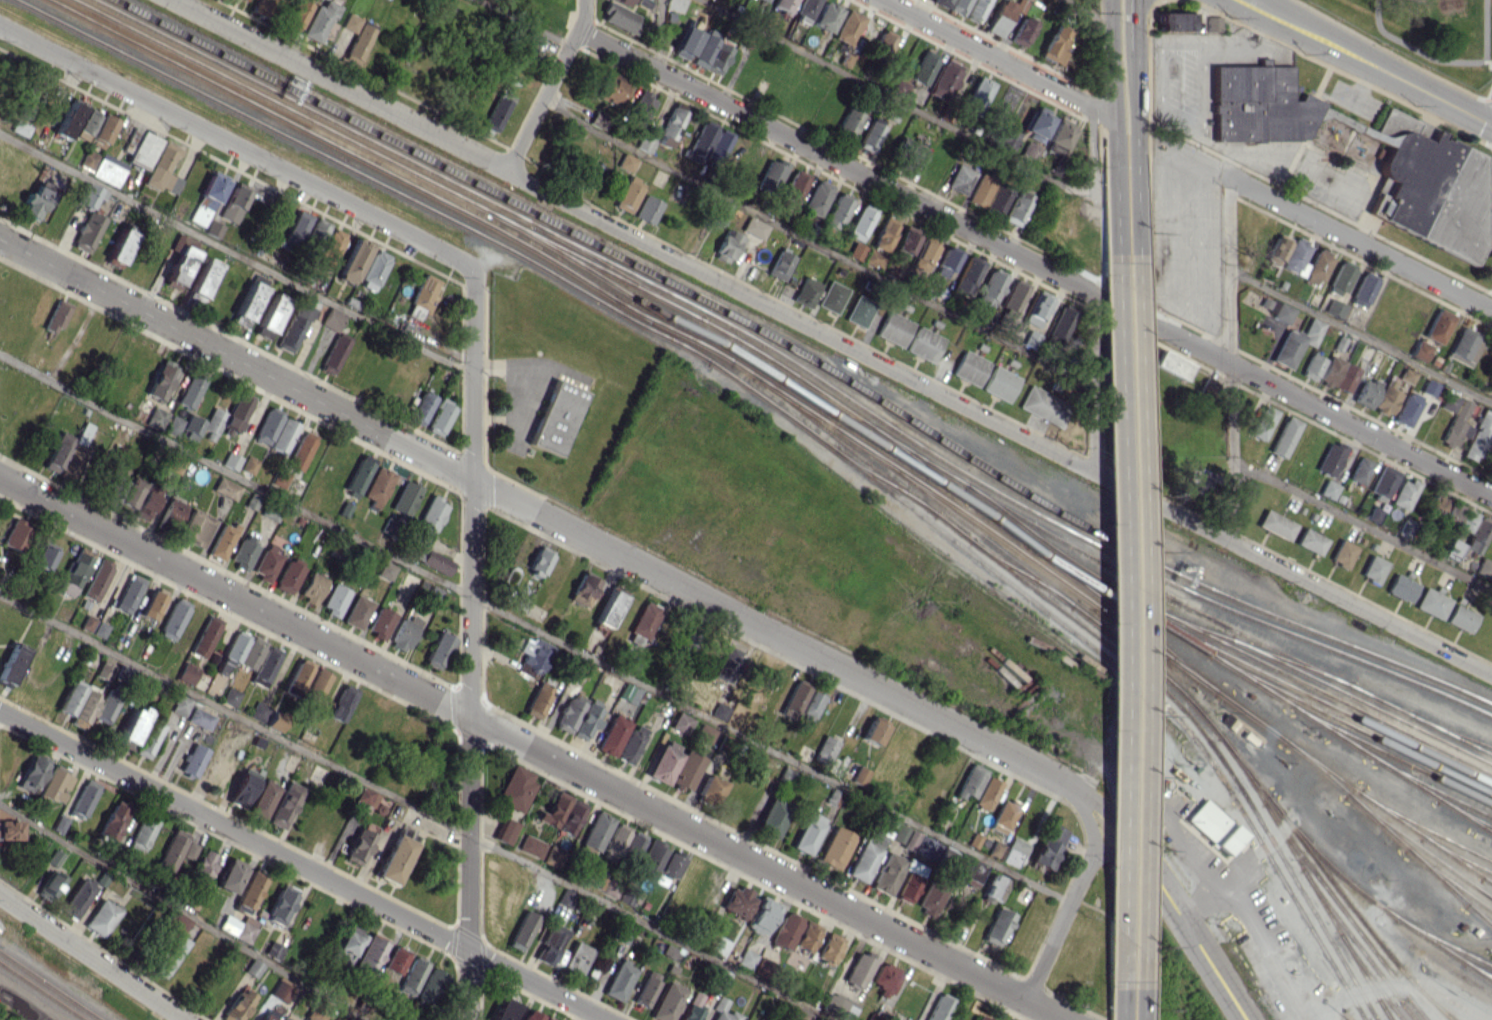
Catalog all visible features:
building: (764, 0)
building: (623, 2)
building: (644, 2)
road: (1256, 2)
building: (942, 3)
building: (262, 5)
building: (783, 5)
building: (958, 6)
road: (1134, 8)
road: (1141, 8)
building: (975, 9)
building: (804, 10)
building: (296, 14)
road: (584, 15)
building: (618, 16)
building: (824, 16)
road: (1091, 16)
building: (1000, 17)
building: (319, 20)
building: (1175, 21)
building: (350, 22)
road: (523, 23)
building: (1213, 23)
building: (847, 27)
building: (1021, 31)
road: (1134, 33)
road: (658, 34)
building: (687, 39)
park: (1411, 40)
building: (884, 41)
building: (357, 44)
building: (1054, 45)
building: (711, 53)
road: (998, 58)
road: (1376, 63)
building: (923, 67)
road: (1112, 70)
building: (944, 79)
building: (900, 84)
building: (611, 89)
road: (1134, 95)
building: (976, 96)
road: (541, 100)
building: (641, 104)
building: (1260, 104)
building: (496, 111)
railway: (313, 112)
road: (929, 116)
building: (599, 119)
building: (67, 120)
building: (848, 122)
building: (85, 124)
building: (1037, 124)
building: (669, 127)
building: (19, 128)
building: (102, 131)
building: (869, 136)
building: (1058, 136)
building: (1006, 138)
building: (700, 141)
building: (645, 142)
road: (236, 145)
building: (718, 145)
building: (140, 147)
building: (908, 149)
building: (1030, 150)
building: (87, 159)
railway: (385, 160)
building: (625, 162)
building: (108, 169)
building: (162, 169)
building: (771, 173)
railway: (364, 176)
building: (960, 179)
building: (793, 189)
building: (980, 190)
building: (628, 194)
building: (89, 195)
building: (207, 198)
building: (816, 198)
building: (997, 199)
building: (34, 202)
building: (234, 202)
building: (1017, 207)
building: (647, 209)
building: (837, 210)
building: (718, 214)
building: (860, 222)
road: (1323, 223)
building: (753, 227)
building: (213, 229)
building: (295, 230)
building: (86, 231)
building: (316, 232)
building: (884, 233)
parking lot: (1186, 236)
building: (905, 240)
building: (121, 245)
building: (727, 245)
road: (817, 245)
building: (330, 247)
building: (855, 250)
building: (1276, 250)
road: (236, 253)
building: (921, 257)
building: (1296, 257)
building: (179, 260)
building: (352, 260)
road: (1035, 261)
building: (945, 263)
building: (779, 265)
building: (1317, 267)
building: (373, 270)
railway: (617, 273)
building: (968, 275)
building: (203, 277)
building: (1340, 278)
railway: (663, 282)
building: (990, 288)
building: (1363, 289)
railway: (621, 291)
building: (806, 292)
building: (423, 296)
building: (831, 296)
building: (350, 302)
building: (247, 304)
building: (1011, 305)
building: (859, 310)
building: (1037, 310)
building: (56, 316)
building: (270, 316)
building: (331, 319)
building: (1438, 325)
building: (293, 326)
building: (1058, 326)
building: (893, 328)
railway: (670, 329)
road: (1361, 336)
road: (829, 337)
building: (1031, 338)
building: (1295, 342)
building: (924, 344)
building: (1464, 346)
building: (1419, 350)
building: (333, 354)
road: (1231, 355)
building: (1173, 364)
building: (1311, 366)
building: (969, 367)
building: (1338, 374)
building: (1406, 375)
building: (161, 379)
road: (1095, 382)
building: (999, 383)
building: (1428, 387)
building: (190, 390)
building: (1366, 392)
railway: (799, 395)
building: (1386, 397)
building: (1042, 405)
building: (1455, 405)
building: (420, 408)
building: (1406, 409)
building: (235, 413)
railway: (786, 416)
building: (155, 417)
building: (439, 417)
building: (555, 417)
building: (1261, 422)
building: (212, 424)
building: (172, 425)
building: (267, 425)
building: (191, 427)
building: (1454, 431)
building: (282, 435)
building: (1283, 436)
building: (1478, 437)
building: (76, 450)
building: (301, 450)
building: (57, 452)
building: (1330, 459)
building: (230, 460)
building: (175, 464)
building: (248, 464)
building: (1360, 470)
building: (358, 475)
building: (279, 478)
railway: (884, 481)
building: (1194, 481)
building: (1383, 481)
building: (377, 487)
building: (226, 488)
building: (1328, 489)
building: (114, 490)
building: (131, 493)
railway: (1001, 493)
building: (1404, 493)
building: (405, 497)
building: (252, 500)
building: (145, 505)
building: (1434, 506)
building: (344, 509)
building: (172, 511)
building: (1450, 514)
building: (428, 519)
building: (1466, 520)
building: (1275, 524)
building: (387, 525)
road: (1363, 525)
building: (196, 527)
building: (15, 534)
building: (1477, 535)
road: (588, 539)
building: (222, 540)
building: (1310, 541)
building: (1450, 549)
building: (244, 552)
railway: (1089, 552)
building: (1342, 553)
building: (44, 554)
railway: (1023, 556)
building: (539, 560)
building: (267, 562)
building: (434, 562)
building: (1372, 568)
building: (1484, 568)
building: (385, 570)
building: (75, 571)
railway: (1020, 572)
building: (288, 577)
building: (97, 579)
road: (1117, 580)
road: (1137, 580)
building: (312, 587)
building: (1401, 588)
building: (583, 589)
building: (129, 593)
building: (433, 594)
building: (334, 599)
building: (152, 602)
building: (1431, 603)
railway: (1144, 605)
building: (608, 609)
building: (357, 611)
building: (173, 618)
building: (1461, 618)
building: (644, 619)
building: (380, 622)
building: (94, 626)
road: (535, 628)
building: (403, 633)
railway: (1307, 633)
building: (205, 635)
road: (470, 644)
railway: (1348, 644)
building: (233, 650)
building: (438, 650)
railway: (1114, 651)
building: (252, 652)
railway: (1132, 652)
building: (534, 656)
building: (729, 661)
building: (11, 663)
building: (265, 666)
railway: (1187, 668)
railway: (1340, 668)
building: (105, 669)
building: (187, 673)
building: (297, 677)
railway: (1256, 683)
building: (314, 684)
building: (628, 693)
railway: (1322, 693)
building: (230, 696)
building: (794, 696)
building: (70, 697)
building: (538, 700)
railway: (1361, 700)
building: (342, 702)
railway: (1319, 702)
building: (181, 704)
building: (811, 704)
building: (106, 706)
building: (84, 709)
building: (259, 711)
building: (719, 711)
road: (234, 713)
building: (569, 713)
building: (199, 718)
building: (586, 718)
building: (275, 721)
building: (681, 722)
building: (133, 724)
railway: (1349, 726)
building: (873, 730)
railway: (1450, 732)
building: (704, 733)
building: (613, 735)
building: (149, 739)
building: (630, 743)
road: (533, 749)
building: (825, 749)
railway: (1390, 757)
building: (192, 760)
building: (665, 761)
building: (686, 770)
building: (32, 773)
building: (786, 775)
building: (859, 775)
building: (970, 781)
building: (56, 783)
building: (242, 787)
building: (709, 788)
building: (514, 789)
building: (987, 793)
railway: (1431, 795)
building: (366, 797)
building: (83, 799)
building: (263, 799)
building: (284, 804)
building: (554, 810)
railway: (1388, 812)
railway: (1463, 813)
building: (1002, 815)
building: (571, 817)
building: (772, 818)
building: (113, 820)
building: (60, 823)
road: (1089, 826)
building: (1214, 826)
railway: (1425, 829)
building: (10, 830)
building: (505, 831)
building: (596, 831)
building: (142, 832)
building: (808, 832)
building: (1054, 833)
building: (903, 836)
building: (616, 839)
building: (974, 839)
building: (633, 844)
building: (358, 846)
building: (531, 846)
building: (835, 847)
building: (926, 847)
railway: (1417, 847)
building: (995, 849)
building: (189, 850)
building: (172, 851)
building: (1014, 852)
building: (1045, 854)
building: (552, 856)
road: (1115, 856)
building: (651, 858)
railway: (1463, 858)
building: (394, 859)
building: (863, 861)
road: (302, 865)
building: (204, 866)
building: (668, 867)
building: (889, 872)
building: (972, 873)
building: (230, 875)
building: (52, 876)
railway: (1447, 880)
railway: (1489, 881)
railway: (1330, 882)
building: (994, 888)
building: (906, 889)
building: (249, 893)
building: (627, 894)
building: (931, 897)
building: (77, 898)
building: (566, 898)
railway: (1369, 899)
building: (737, 901)
building: (280, 904)
railway: (1325, 911)
road: (181, 912)
railway: (1478, 912)
building: (762, 915)
building: (101, 917)
building: (173, 922)
building: (997, 926)
building: (238, 927)
road: (651, 927)
building: (786, 929)
building: (522, 930)
building: (542, 932)
building: (624, 933)
road: (1253, 933)
building: (806, 936)
road: (1055, 937)
building: (348, 943)
railway: (1442, 943)
building: (551, 944)
road: (1198, 945)
railway: (1356, 945)
building: (828, 948)
building: (273, 950)
building: (671, 951)
building: (370, 952)
road: (93, 956)
building: (170, 956)
building: (576, 957)
building: (396, 959)
building: (763, 967)
building: (253, 968)
building: (859, 969)
railway: (1477, 969)
building: (411, 977)
railway: (1368, 977)
building: (885, 979)
building: (618, 981)
road: (1398, 984)
railway: (51, 985)
building: (431, 986)
building: (646, 988)
railway: (42, 991)
building: (281, 991)
building: (667, 1002)
building: (238, 1005)
building: (691, 1006)
building: (838, 1006)
building: (939, 1007)
road: (15, 1009)
railway: (1382, 1009)
building: (504, 1010)
building: (722, 1011)
building: (314, 1013)
building: (271, 1015)
building: (531, 1015)
building: (872, 1017)
building: (546, 1018)
building: (981, 1018)
building: (956, 1019)

